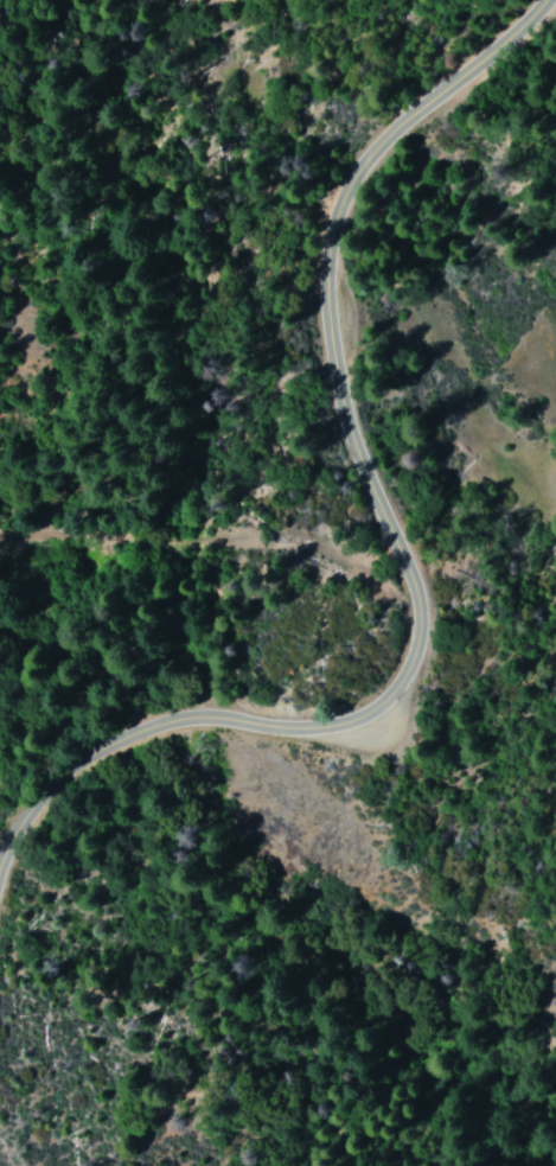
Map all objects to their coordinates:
road: (404, 541)

